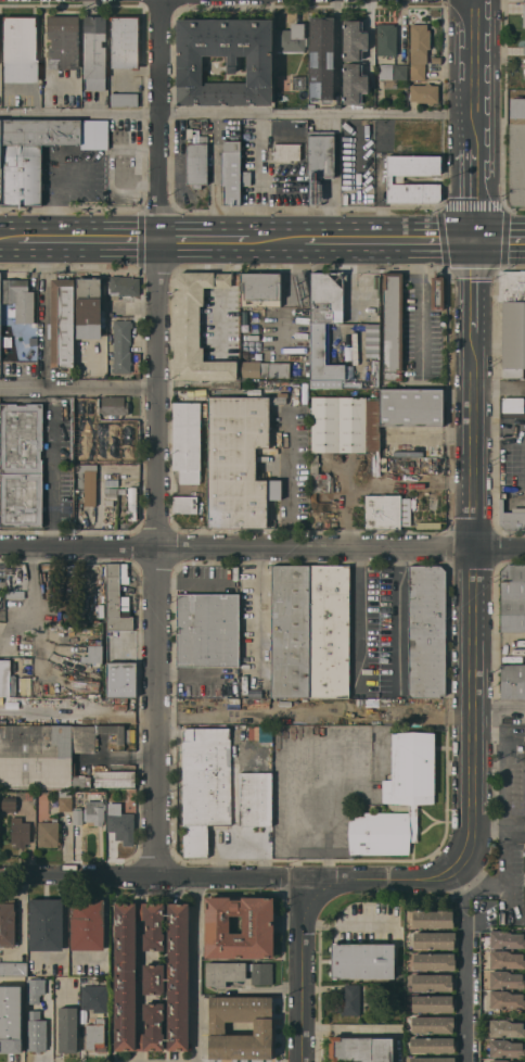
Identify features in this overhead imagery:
road: (402, 12)
building: (524, 15)
road: (370, 35)
building: (292, 37)
building: (386, 38)
building: (354, 39)
building: (63, 41)
building: (125, 41)
building: (524, 41)
building: (21, 48)
building: (419, 49)
building: (524, 49)
building: (94, 52)
building: (321, 58)
building: (436, 59)
building: (189, 64)
building: (524, 69)
building: (400, 71)
building: (524, 76)
building: (299, 81)
building: (355, 83)
building: (424, 92)
building: (125, 99)
road: (239, 114)
road: (476, 118)
building: (248, 131)
building: (94, 134)
building: (189, 134)
building: (517, 151)
building: (285, 152)
building: (29, 154)
building: (321, 154)
building: (196, 162)
building: (231, 172)
building: (246, 178)
building: (389, 179)
road: (10, 233)
road: (91, 236)
road: (205, 237)
road: (277, 237)
road: (390, 237)
traffic signals: (476, 237)
road: (500, 237)
building: (125, 285)
building: (261, 290)
building: (437, 292)
building: (18, 300)
building: (0, 301)
building: (89, 307)
building: (512, 321)
building: (62, 323)
building: (324, 323)
building: (393, 325)
building: (196, 327)
building: (121, 347)
building: (347, 347)
building: (265, 368)
building: (17, 369)
building: (375, 372)
road: (81, 389)
building: (513, 404)
building: (114, 405)
building: (93, 406)
building: (411, 407)
building: (98, 417)
building: (78, 418)
building: (341, 434)
building: (185, 440)
road: (162, 441)
building: (82, 450)
building: (238, 459)
building: (22, 464)
road: (55, 467)
building: (411, 468)
road: (289, 477)
building: (88, 480)
building: (111, 490)
building: (121, 490)
building: (112, 496)
building: (131, 503)
building: (185, 504)
building: (387, 510)
building: (511, 517)
road: (471, 541)
road: (262, 545)
building: (513, 597)
building: (118, 599)
road: (257, 611)
road: (358, 616)
road: (397, 618)
building: (207, 630)
building: (291, 630)
building: (329, 631)
building: (426, 631)
building: (93, 654)
road: (195, 670)
building: (121, 678)
building: (512, 681)
building: (49, 753)
building: (411, 769)
building: (114, 779)
building: (205, 784)
building: (255, 798)
building: (65, 802)
building: (9, 804)
building: (95, 811)
building: (77, 816)
building: (120, 822)
building: (413, 822)
road: (499, 825)
building: (20, 831)
building: (48, 833)
building: (379, 833)
building: (524, 847)
road: (395, 878)
road: (153, 882)
building: (432, 919)
building: (8, 922)
building: (258, 923)
building: (46, 924)
building: (87, 924)
building: (507, 938)
building: (434, 939)
building: (507, 959)
building: (363, 960)
building: (434, 961)
road: (470, 962)
building: (13, 968)
building: (236, 972)
road: (303, 972)
road: (196, 973)
building: (152, 976)
building: (507, 979)
building: (85, 981)
building: (432, 982)
building: (36, 986)
building: (94, 998)
building: (350, 999)
building: (507, 999)
building: (433, 1003)
building: (48, 1010)
building: (11, 1019)
building: (433, 1024)
building: (262, 1027)
building: (507, 1027)
building: (67, 1028)
building: (37, 1034)
building: (95, 1035)
building: (433, 1045)
building: (507, 1048)
building: (360, 1049)
building: (433, 1059)
building: (501, 1060)

